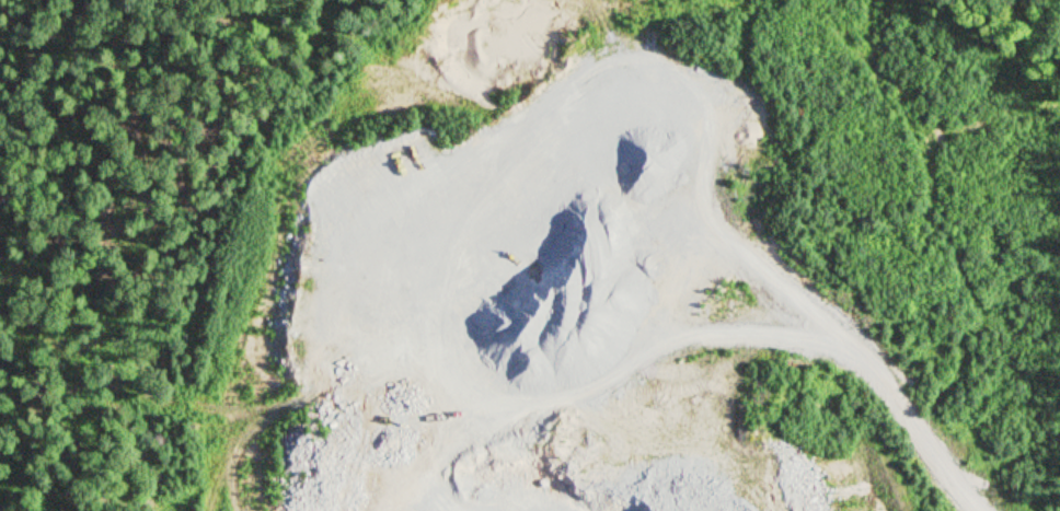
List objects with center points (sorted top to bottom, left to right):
road: (1039, 16)
quarry: (514, 274)
road: (877, 383)

